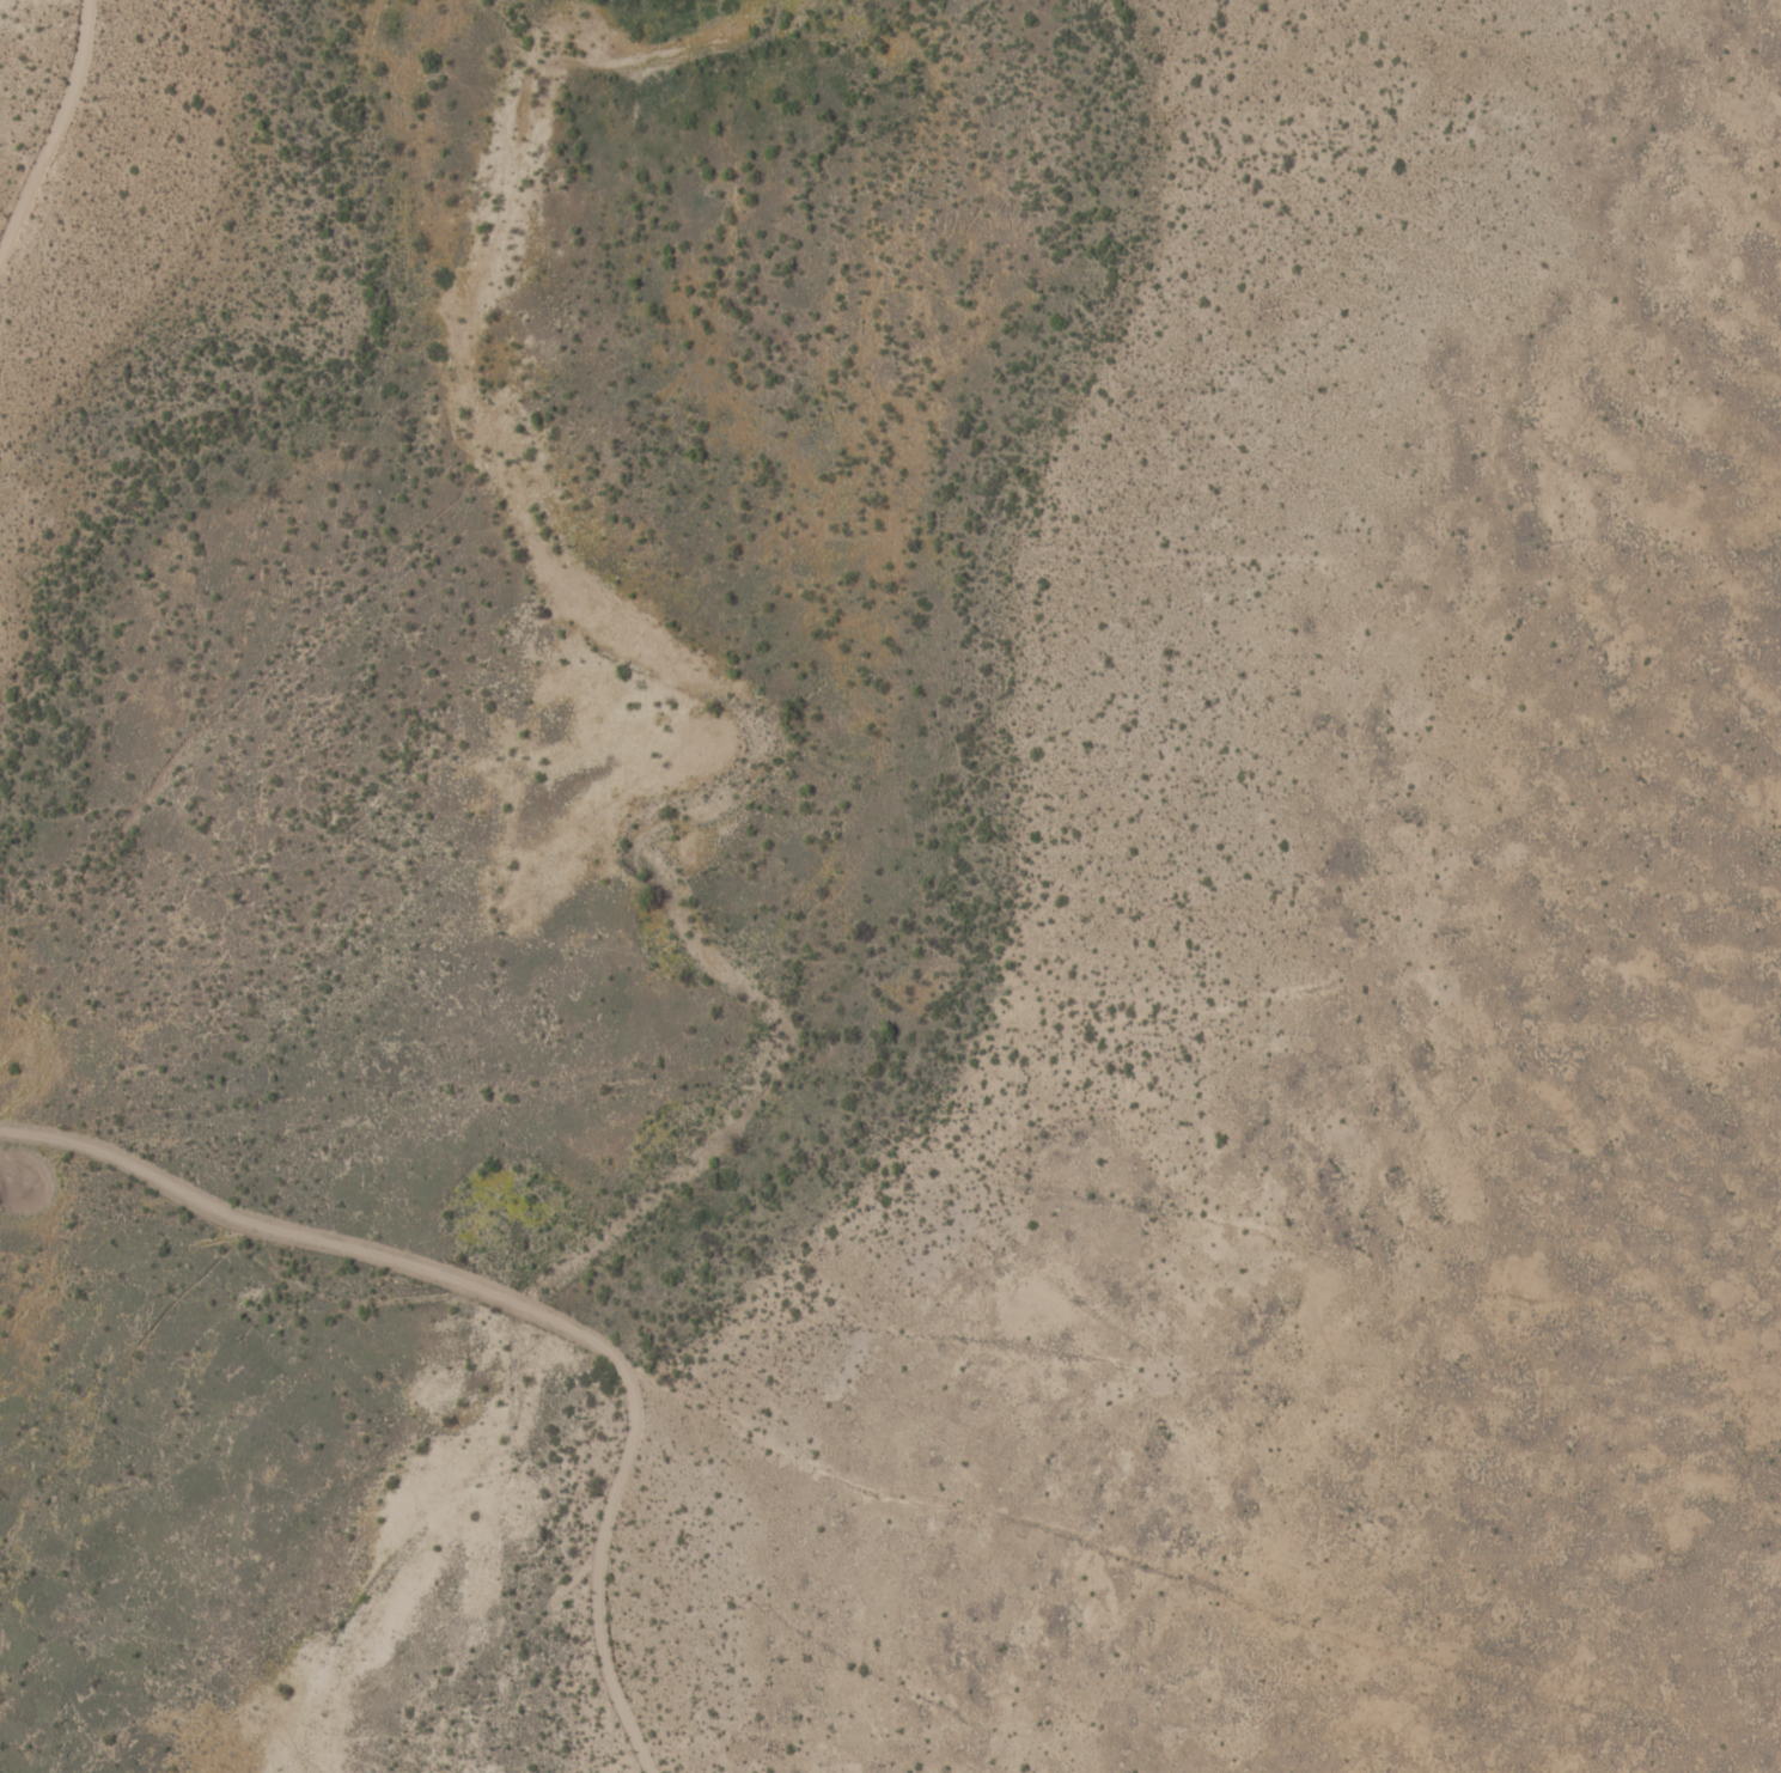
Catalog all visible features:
road: (18, 67)
road: (835, 1131)

